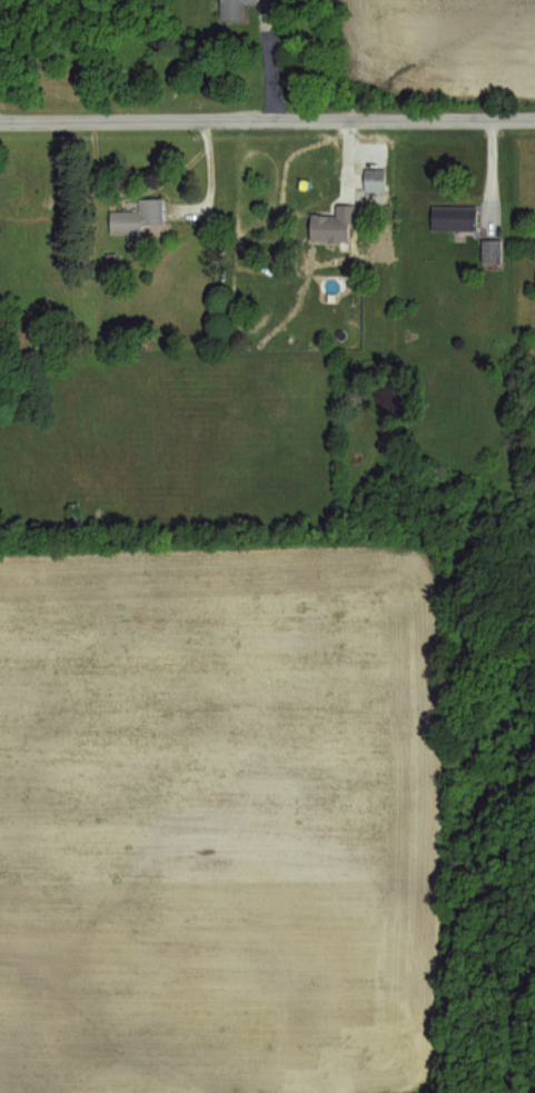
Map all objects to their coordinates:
building: (236, 9)
crop: (448, 40)
road: (271, 71)
road: (267, 116)
building: (371, 179)
building: (138, 215)
building: (454, 217)
building: (331, 223)
building: (491, 249)
crop: (218, 816)

